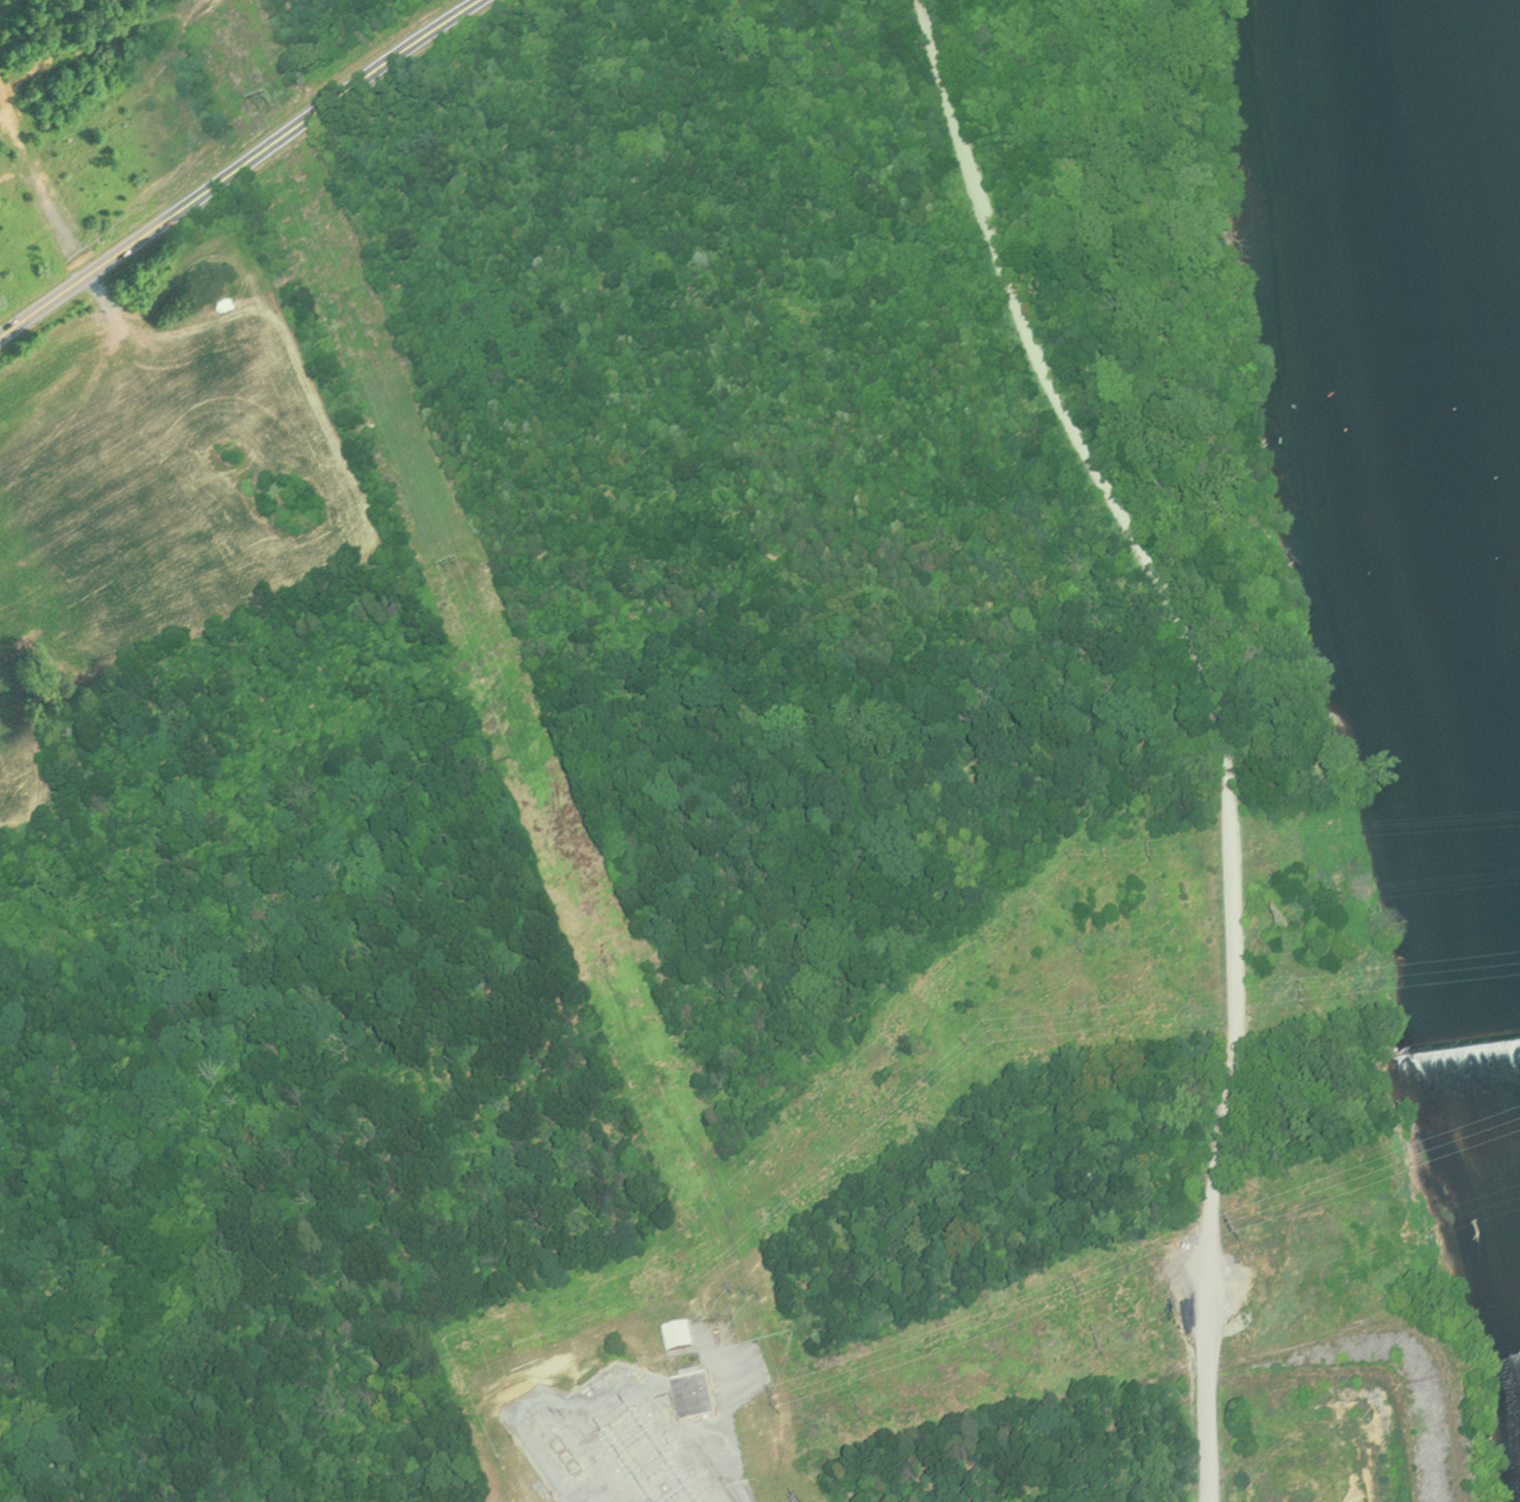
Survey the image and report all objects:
power tower: (265, 108)
road: (236, 162)
river: (1466, 304)
power tower: (454, 571)
road: (1220, 720)
power tower: (1281, 922)
power tower: (612, 964)
power tower: (1239, 1238)
power tower: (1083, 1294)
power tower: (746, 1296)
power tower: (1101, 1347)
building: (697, 1375)
power tower: (777, 1406)
power tower: (865, 1420)
road: (727, 1428)
power substation: (614, 1441)

